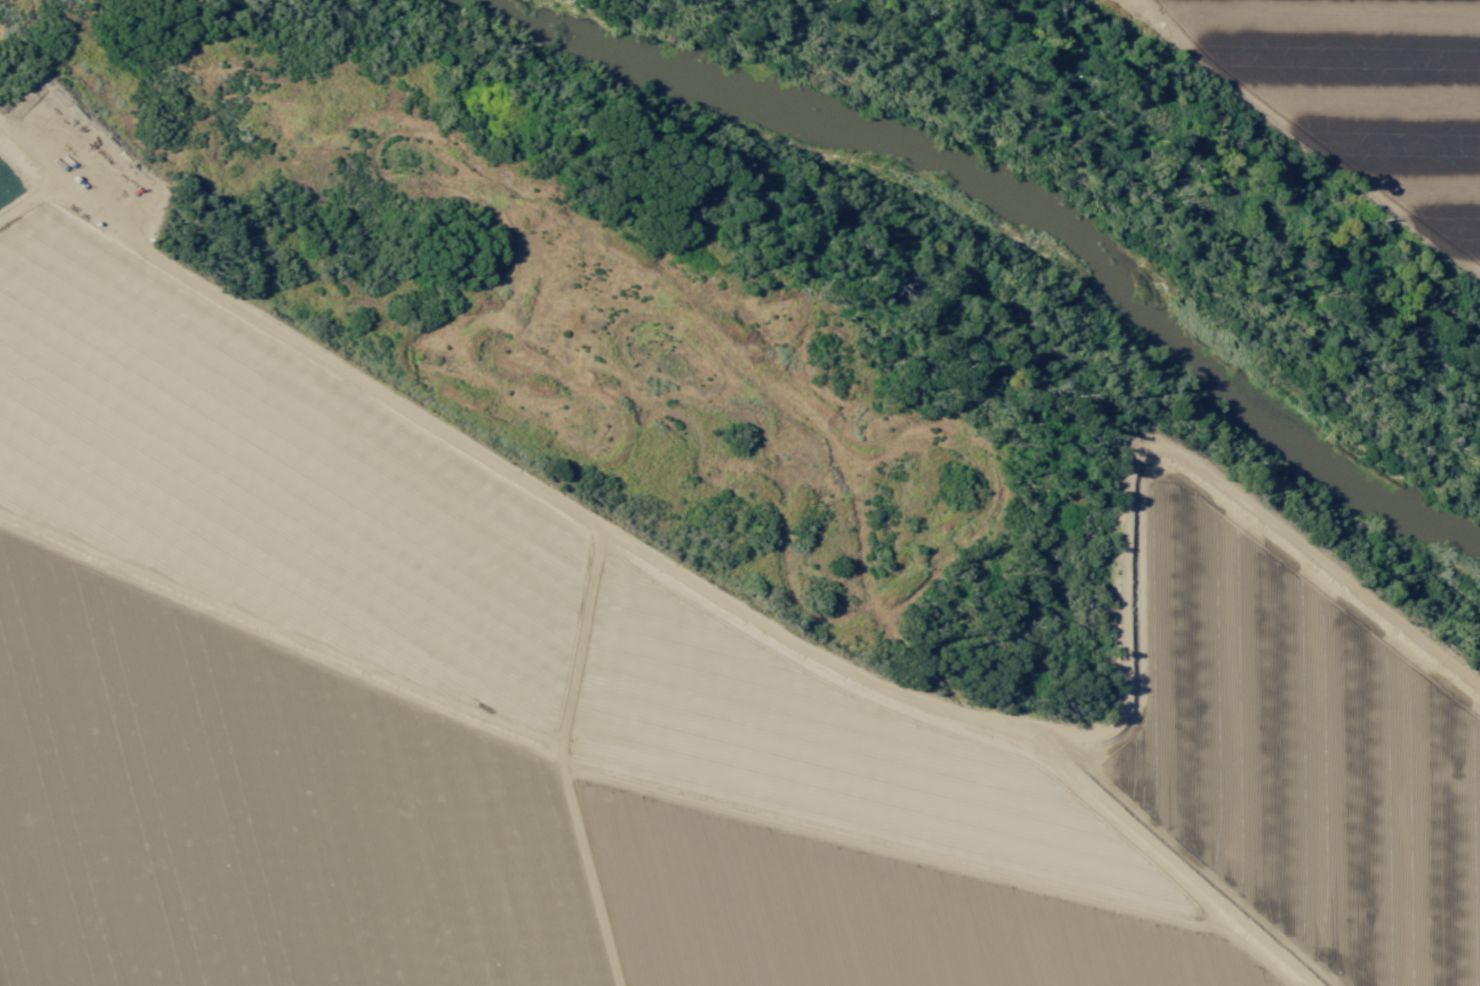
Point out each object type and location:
crop: (1364, 99)
crop: (621, 715)

